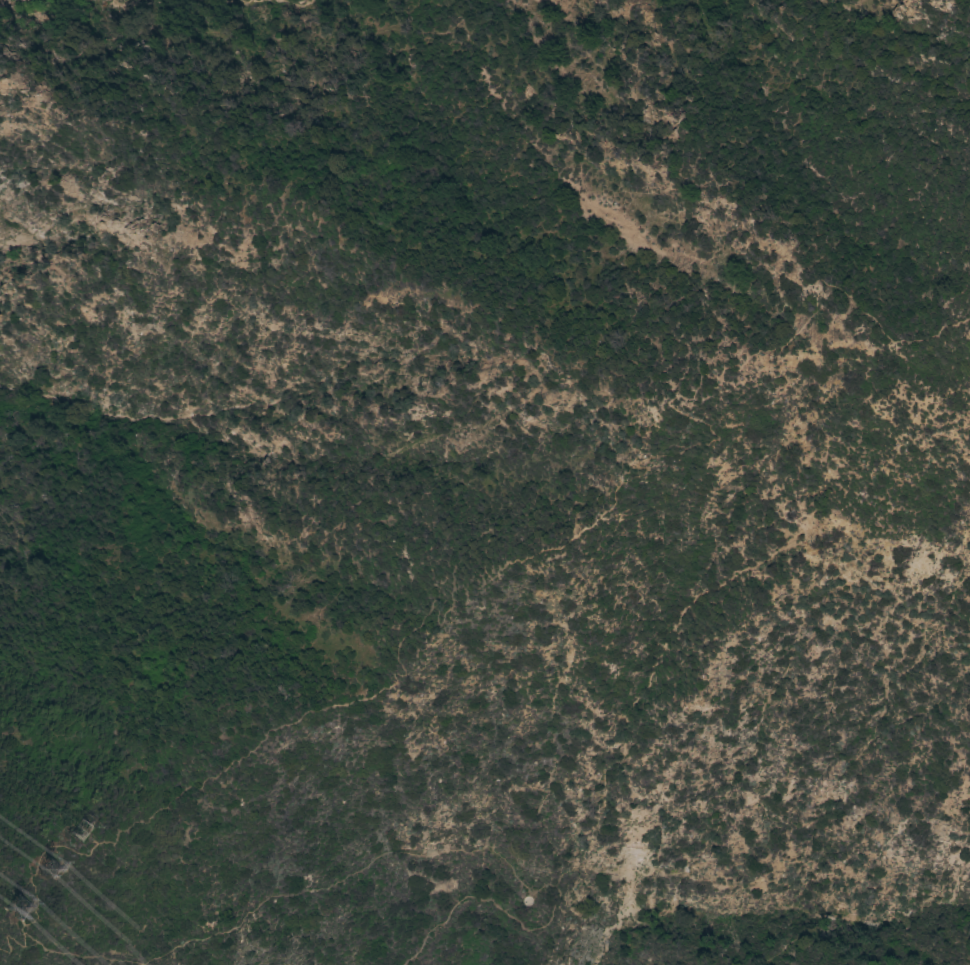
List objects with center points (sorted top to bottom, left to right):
road: (499, 571)
power tower: (79, 833)
road: (656, 866)
power tower: (40, 876)
road: (297, 894)
building: (527, 900)
storage tank: (527, 900)
power tower: (3, 918)

